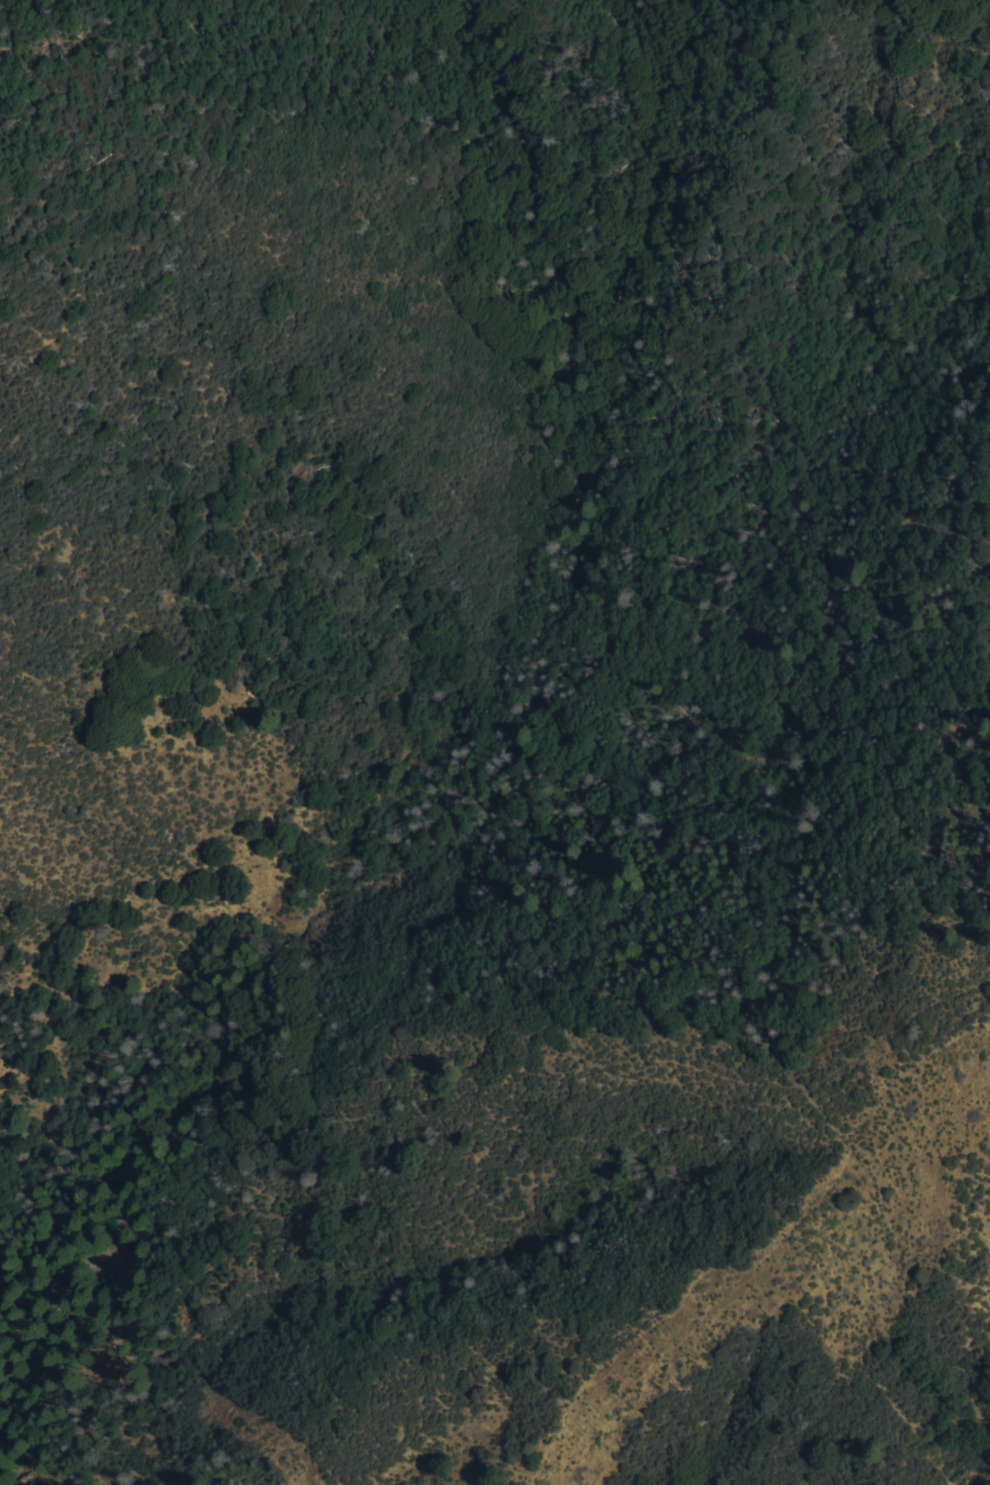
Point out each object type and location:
road: (122, 1161)
building: (29, 1484)

